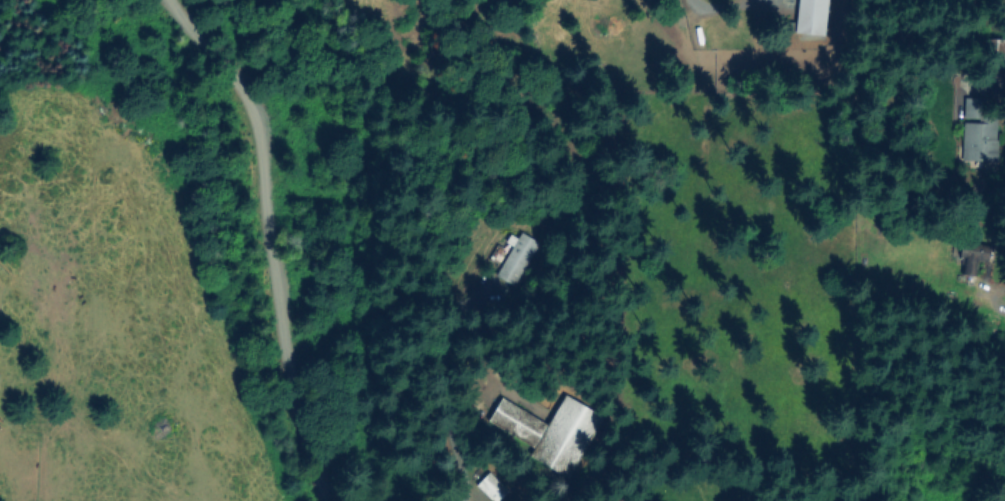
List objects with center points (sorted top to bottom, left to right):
building: (990, 51)
building: (973, 107)
building: (981, 141)
road: (274, 237)
building: (974, 256)
building: (518, 258)
road: (988, 294)
building: (518, 422)
building: (568, 437)
road: (462, 488)
building: (493, 488)

